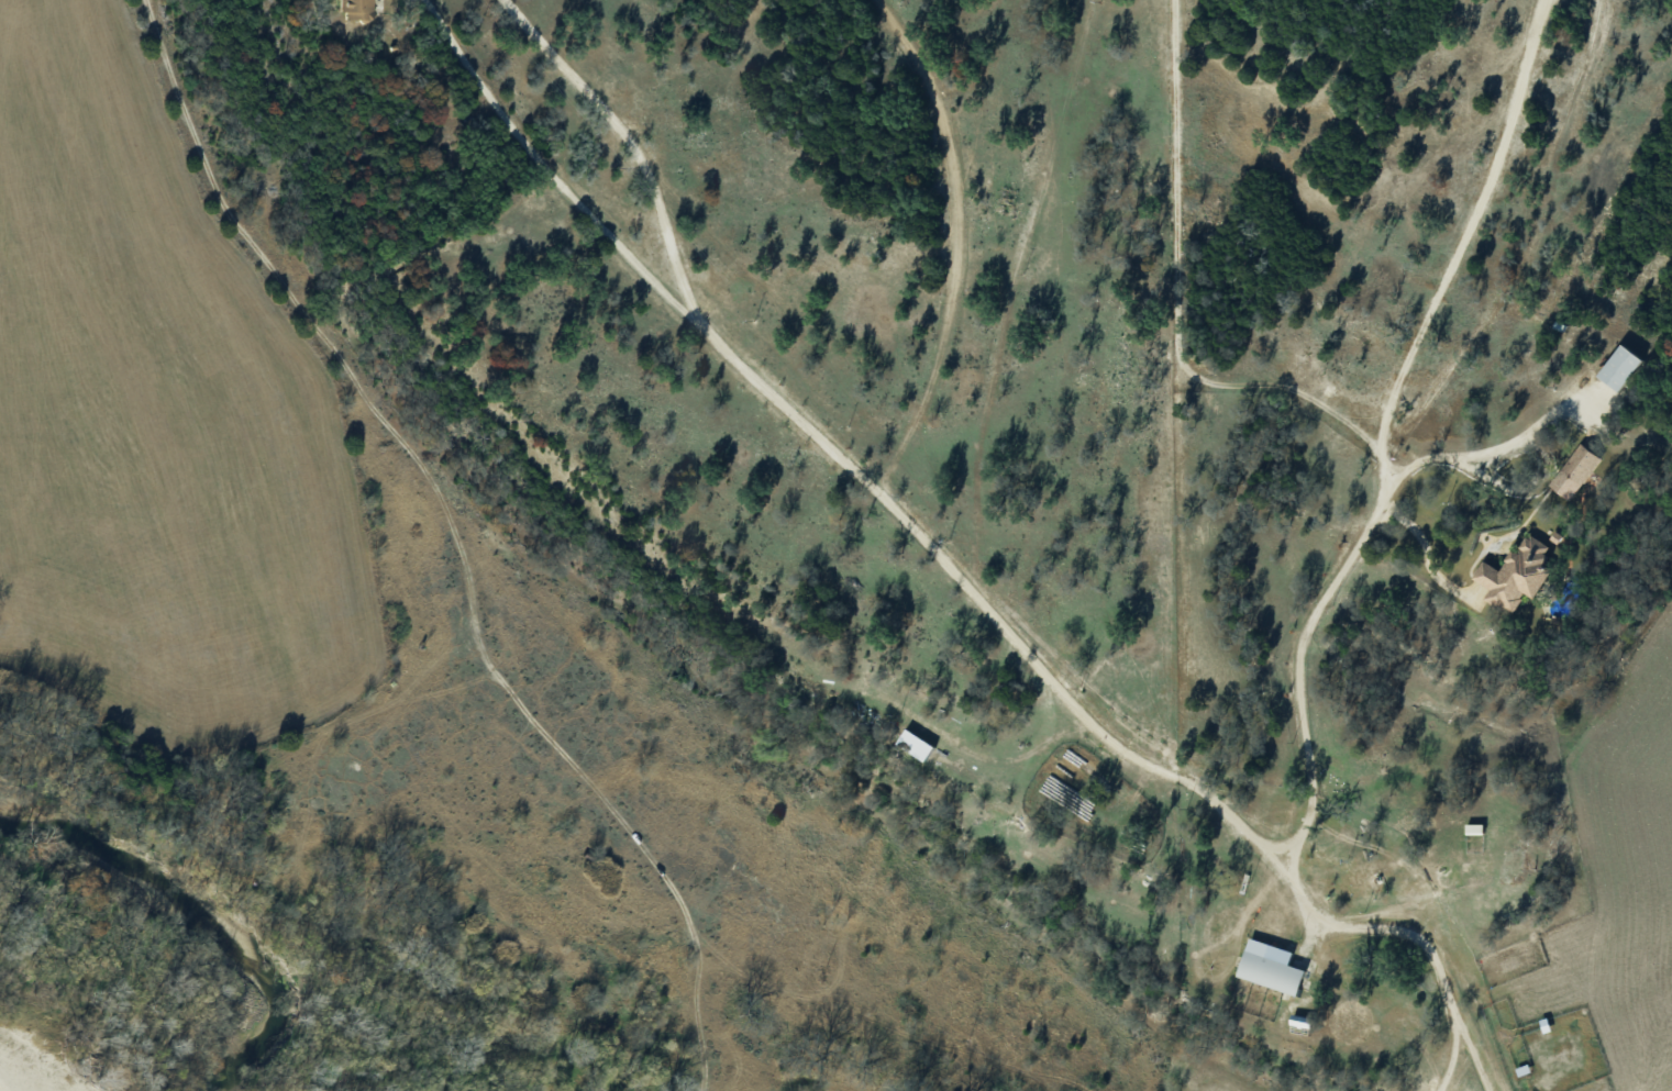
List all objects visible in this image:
building: (355, 9)
road: (374, 360)
building: (1618, 367)
road: (1492, 449)
building: (1574, 471)
road: (1425, 543)
road: (954, 571)
building: (1515, 572)
road: (1299, 660)
building: (915, 744)
building: (1270, 966)

